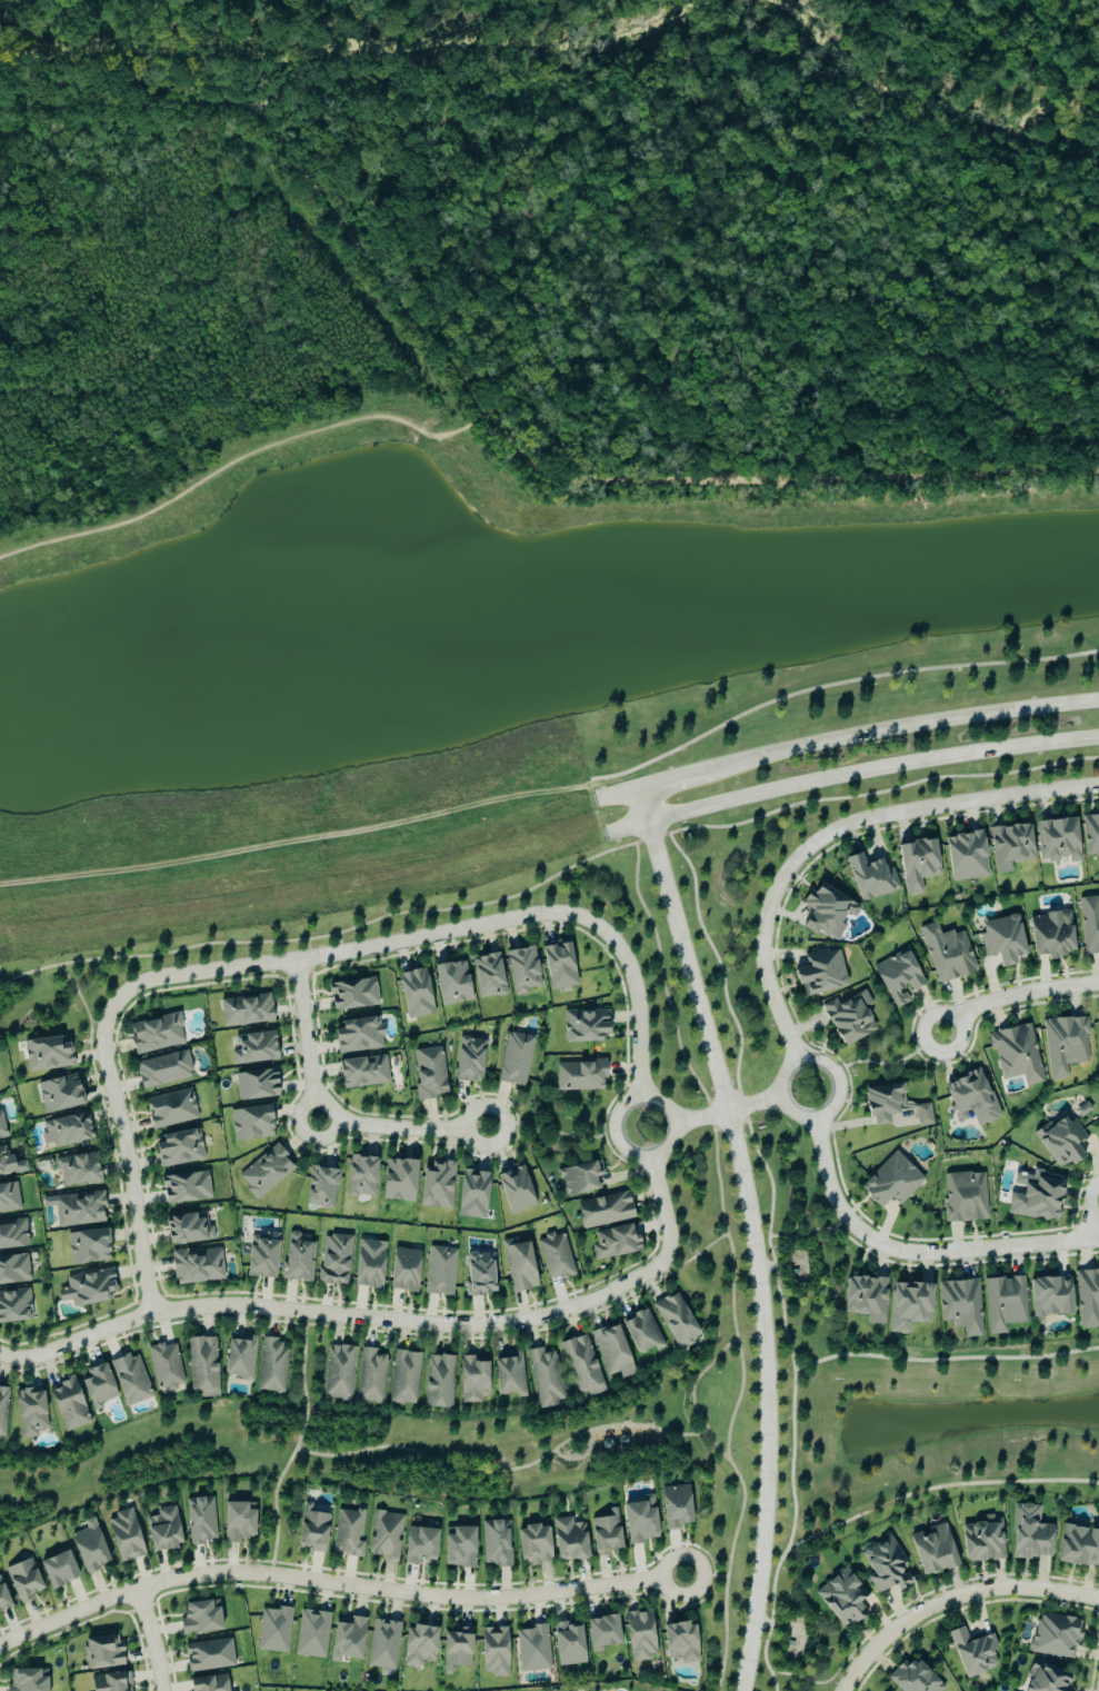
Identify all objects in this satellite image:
river: (319, 46)
river: (920, 111)
road: (527, 464)
road: (867, 738)
road: (870, 767)
road: (556, 790)
road: (873, 792)
road: (643, 805)
road: (835, 829)
building: (1090, 835)
building: (1057, 840)
building: (1009, 846)
building: (965, 856)
building: (917, 864)
building: (867, 877)
building: (827, 913)
building: (1089, 925)
road: (442, 932)
building: (1050, 934)
building: (1001, 939)
building: (946, 954)
building: (558, 965)
building: (521, 971)
building: (820, 973)
building: (487, 975)
building: (898, 978)
building: (451, 983)
building: (352, 994)
building: (414, 994)
road: (1016, 994)
building: (244, 1011)
building: (848, 1017)
building: (583, 1025)
building: (1097, 1033)
building: (154, 1034)
building: (357, 1035)
building: (1063, 1045)
building: (252, 1048)
building: (46, 1054)
building: (1016, 1054)
building: (513, 1060)
building: (468, 1061)
building: (162, 1070)
building: (362, 1072)
building: (428, 1073)
building: (579, 1076)
building: (256, 1085)
building: (58, 1094)
building: (970, 1098)
road: (757, 1103)
building: (170, 1110)
road: (819, 1114)
building: (921, 1115)
road: (702, 1117)
road: (321, 1120)
building: (250, 1123)
building: (1, 1130)
building: (66, 1131)
building: (1060, 1142)
building: (179, 1148)
road: (651, 1153)
road: (124, 1161)
building: (3, 1163)
building: (77, 1170)
building: (264, 1172)
building: (360, 1176)
building: (579, 1177)
building: (398, 1180)
building: (890, 1182)
building: (436, 1185)
building: (184, 1187)
building: (320, 1187)
building: (514, 1190)
building: (471, 1194)
building: (1035, 1196)
building: (965, 1197)
building: (8, 1198)
building: (76, 1208)
building: (603, 1211)
road: (1090, 1211)
building: (187, 1230)
building: (12, 1234)
building: (613, 1243)
building: (87, 1247)
road: (757, 1249)
road: (913, 1253)
building: (260, 1255)
building: (555, 1256)
building: (297, 1257)
building: (333, 1261)
building: (368, 1264)
building: (518, 1265)
building: (197, 1266)
building: (13, 1270)
building: (403, 1271)
building: (439, 1272)
building: (479, 1274)
building: (87, 1287)
building: (1049, 1297)
building: (1087, 1297)
building: (865, 1299)
building: (1003, 1303)
building: (13, 1305)
building: (908, 1306)
building: (960, 1306)
road: (391, 1319)
building: (675, 1322)
building: (640, 1332)
building: (611, 1352)
building: (238, 1357)
building: (581, 1366)
building: (164, 1367)
building: (201, 1367)
building: (270, 1367)
building: (337, 1374)
building: (508, 1375)
building: (370, 1377)
building: (403, 1379)
building: (544, 1379)
building: (471, 1380)
building: (129, 1381)
building: (438, 1382)
building: (96, 1386)
building: (67, 1405)
building: (2, 1412)
building: (29, 1413)
building: (675, 1508)
building: (200, 1521)
building: (639, 1521)
building: (238, 1522)
building: (312, 1529)
building: (162, 1531)
building: (347, 1534)
building: (1029, 1534)
building: (384, 1535)
building: (123, 1536)
building: (603, 1536)
building: (568, 1541)
building: (982, 1541)
building: (494, 1544)
building: (419, 1545)
building: (532, 1545)
building: (1078, 1546)
building: (89, 1548)
building: (458, 1548)
building: (932, 1551)
building: (885, 1566)
building: (57, 1571)
building: (22, 1581)
road: (338, 1584)
road: (952, 1598)
building: (841, 1599)
building: (2, 1600)
building: (199, 1619)
building: (272, 1631)
building: (601, 1633)
building: (311, 1634)
building: (638, 1635)
building: (1055, 1637)
road: (148, 1639)
building: (346, 1640)
building: (567, 1644)
building: (679, 1644)
building: (382, 1645)
building: (418, 1647)
building: (457, 1649)
building: (532, 1649)
building: (493, 1652)
building: (972, 1652)
building: (101, 1653)
building: (208, 1657)
building: (912, 1679)
building: (1046, 1680)
building: (24, 1681)
building: (110, 1682)
building: (210, 1684)

